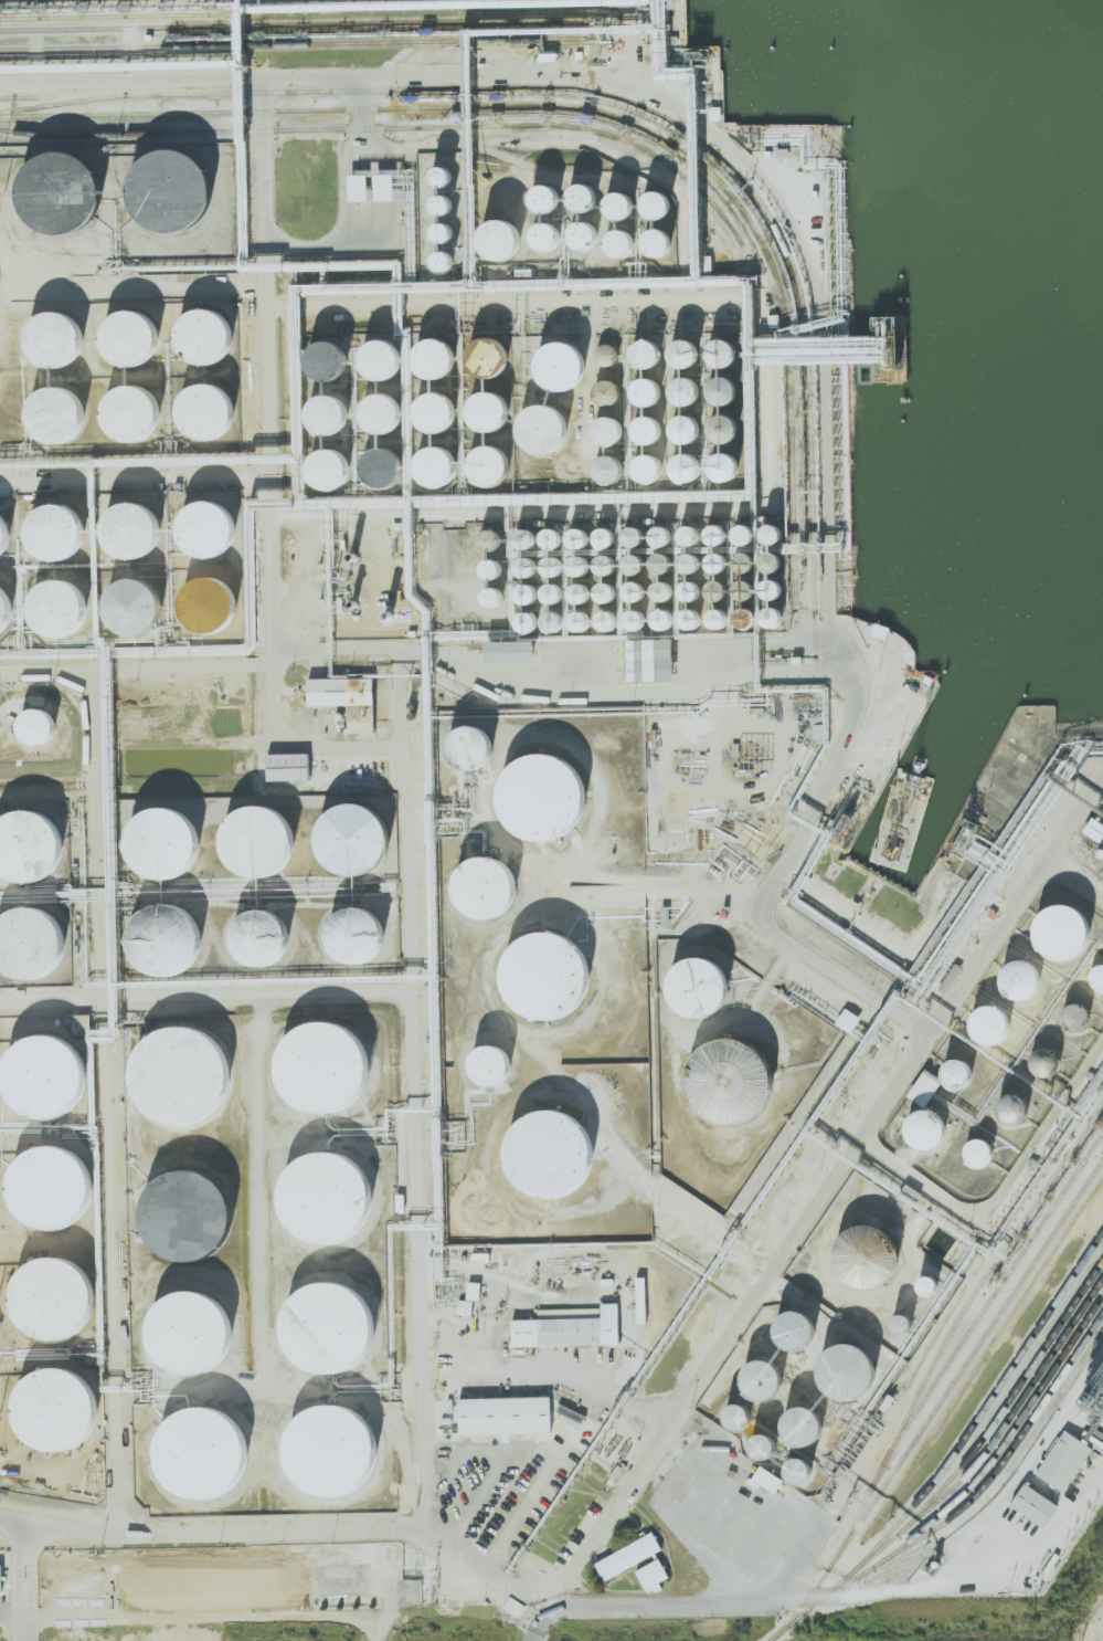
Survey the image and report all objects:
railway: (116, 15)
railway: (293, 24)
railway: (293, 43)
road: (470, 74)
railway: (629, 102)
railway: (595, 109)
railway: (393, 127)
building: (437, 175)
storage tank: (437, 175)
building: (358, 188)
building: (166, 189)
storage tank: (166, 189)
building: (52, 190)
storage tank: (52, 190)
building: (539, 197)
storage tank: (539, 197)
building: (579, 197)
storage tank: (579, 197)
building: (618, 198)
storage tank: (618, 198)
building: (656, 199)
storage tank: (656, 199)
building: (439, 202)
storage tank: (439, 202)
building: (441, 232)
storage tank: (441, 232)
building: (540, 235)
storage tank: (540, 235)
building: (580, 236)
storage tank: (580, 236)
building: (618, 236)
storage tank: (618, 236)
building: (656, 236)
storage tank: (656, 236)
road: (265, 239)
building: (498, 239)
storage tank: (498, 239)
building: (439, 260)
storage tank: (439, 260)
building: (203, 334)
storage tank: (203, 334)
building: (130, 338)
storage tank: (130, 338)
building: (55, 340)
storage tank: (55, 340)
building: (447, 344)
storage tank: (447, 344)
building: (722, 347)
storage tank: (722, 347)
building: (337, 348)
storage tank: (337, 348)
building: (395, 348)
storage tank: (395, 348)
building: (685, 348)
storage tank: (685, 348)
building: (647, 349)
storage tank: (647, 349)
building: (502, 351)
storage tank: (502, 351)
building: (607, 351)
storage tank: (607, 351)
building: (487, 357)
building: (324, 359)
building: (434, 359)
building: (380, 360)
building: (560, 360)
storage tank: (560, 360)
building: (721, 385)
storage tank: (721, 385)
building: (685, 386)
storage tank: (685, 386)
building: (647, 387)
storage tank: (647, 387)
building: (607, 389)
storage tank: (607, 389)
building: (499, 398)
storage tank: (499, 398)
building: (450, 401)
storage tank: (450, 401)
building: (338, 402)
storage tank: (338, 402)
building: (395, 403)
storage tank: (395, 403)
building: (487, 411)
building: (208, 412)
storage tank: (208, 412)
building: (132, 413)
storage tank: (132, 413)
building: (57, 417)
storage tank: (57, 417)
building: (686, 422)
storage tank: (686, 422)
building: (722, 422)
storage tank: (722, 422)
building: (542, 423)
storage tank: (542, 423)
building: (607, 424)
storage tank: (607, 424)
building: (648, 424)
storage tank: (648, 424)
building: (505, 454)
storage tank: (505, 454)
building: (454, 455)
storage tank: (454, 455)
building: (393, 457)
storage tank: (393, 457)
building: (342, 459)
storage tank: (342, 459)
building: (723, 461)
storage tank: (723, 461)
building: (687, 462)
storage tank: (687, 462)
building: (649, 463)
storage tank: (649, 463)
building: (608, 464)
storage tank: (608, 464)
road: (135, 480)
building: (220, 518)
storage tank: (220, 518)
building: (147, 520)
storage tank: (147, 520)
building: (67, 522)
storage tank: (67, 522)
building: (9, 526)
storage tank: (9, 526)
building: (744, 529)
storage tank: (744, 529)
building: (771, 529)
storage tank: (771, 529)
building: (690, 530)
storage tank: (690, 530)
building: (718, 530)
storage tank: (718, 530)
building: (634, 532)
storage tank: (634, 532)
building: (661, 532)
storage tank: (661, 532)
building: (580, 533)
storage tank: (580, 533)
building: (606, 533)
storage tank: (606, 533)
building: (527, 534)
storage tank: (527, 534)
building: (553, 534)
storage tank: (553, 534)
building: (744, 557)
storage tank: (744, 557)
building: (771, 557)
storage tank: (771, 557)
building: (690, 558)
storage tank: (690, 558)
building: (635, 559)
storage tank: (635, 559)
building: (661, 559)
storage tank: (661, 559)
building: (718, 559)
storage tank: (718, 559)
building: (580, 561)
storage tank: (580, 561)
building: (606, 561)
storage tank: (606, 561)
building: (527, 562)
storage tank: (527, 562)
building: (553, 562)
storage tank: (553, 562)
building: (489, 566)
storage tank: (489, 566)
building: (743, 585)
storage tank: (743, 585)
building: (771, 585)
storage tank: (771, 585)
building: (690, 586)
storage tank: (690, 586)
building: (717, 586)
storage tank: (717, 586)
building: (634, 587)
storage tank: (634, 587)
building: (660, 587)
storage tank: (660, 587)
building: (579, 588)
storage tank: (579, 588)
building: (526, 589)
storage tank: (526, 589)
building: (553, 589)
storage tank: (553, 589)
building: (605, 589)
storage tank: (605, 589)
building: (490, 595)
storage tank: (490, 595)
building: (70, 597)
storage tank: (70, 597)
building: (145, 598)
storage tank: (145, 598)
building: (227, 599)
storage tank: (227, 599)
building: (12, 602)
storage tank: (12, 602)
building: (745, 612)
storage tank: (745, 612)
building: (772, 612)
storage tank: (772, 612)
building: (691, 613)
storage tank: (691, 613)
building: (718, 613)
storage tank: (718, 613)
building: (635, 614)
storage tank: (635, 614)
building: (661, 614)
storage tank: (661, 614)
building: (528, 617)
storage tank: (528, 617)
building: (580, 617)
storage tank: (580, 617)
building: (606, 617)
storage tank: (606, 617)
building: (554, 618)
storage tank: (554, 618)
building: (880, 631)
building: (510, 653)
road: (437, 676)
building: (341, 692)
building: (53, 717)
storage tank: (53, 717)
building: (35, 727)
building: (468, 746)
storage tank: (468, 746)
building: (288, 767)
building: (554, 791)
storage tank: (554, 791)
building: (272, 828)
storage tank: (272, 828)
building: (367, 829)
storage tank: (367, 829)
building: (1094, 829)
building: (177, 833)
storage tank: (177, 833)
building: (39, 838)
storage tank: (39, 838)
road: (1074, 881)
building: (482, 885)
storage tank: (482, 885)
road: (764, 901)
building: (370, 927)
storage tank: (370, 927)
building: (277, 929)
storage tank: (277, 929)
building: (1063, 929)
storage tank: (1063, 929)
building: (40, 933)
storage tank: (40, 933)
building: (178, 935)
storage tank: (178, 935)
building: (560, 969)
storage tank: (560, 969)
building: (1096, 977)
storage tank: (1096, 977)
building: (1021, 979)
storage tank: (1021, 979)
building: (693, 980)
storage tank: (693, 980)
road: (91, 999)
road: (44, 1000)
building: (1074, 1017)
storage tank: (1074, 1017)
building: (848, 1021)
building: (993, 1024)
storage tank: (993, 1024)
building: (1044, 1063)
storage tank: (1044, 1063)
building: (484, 1064)
storage tank: (484, 1064)
building: (317, 1066)
storage tank: (317, 1066)
building: (180, 1077)
storage tank: (180, 1077)
building: (958, 1077)
storage tank: (958, 1077)
building: (46, 1080)
storage tank: (46, 1080)
building: (732, 1081)
storage tank: (732, 1081)
building: (1015, 1109)
storage tank: (1015, 1109)
road: (421, 1128)
building: (926, 1134)
storage tank: (926, 1134)
building: (563, 1146)
storage tank: (563, 1146)
building: (977, 1154)
storage tank: (977, 1154)
road: (1004, 1187)
building: (51, 1190)
storage tank: (51, 1190)
building: (321, 1196)
storage tank: (321, 1196)
building: (188, 1216)
storage tank: (188, 1216)
building: (870, 1258)
storage tank: (870, 1258)
building: (924, 1283)
storage tank: (924, 1283)
building: (474, 1291)
railway: (991, 1297)
building: (52, 1300)
storage tank: (52, 1300)
building: (641, 1301)
building: (465, 1307)
building: (897, 1319)
storage tank: (897, 1319)
building: (321, 1325)
storage tank: (321, 1325)
building: (183, 1327)
storage tank: (183, 1327)
building: (791, 1328)
storage tank: (791, 1328)
railway: (965, 1365)
building: (839, 1369)
storage tank: (839, 1369)
railway: (930, 1369)
building: (755, 1376)
storage tank: (755, 1376)
building: (738, 1411)
storage tank: (738, 1411)
building: (57, 1412)
storage tank: (57, 1412)
building: (505, 1416)
railway: (1010, 1416)
building: (795, 1420)
storage tank: (795, 1420)
road: (671, 1421)
road: (424, 1430)
railway: (988, 1431)
building: (759, 1443)
storage tank: (759, 1443)
building: (324, 1445)
storage tank: (324, 1445)
building: (200, 1448)
storage tank: (200, 1448)
railway: (955, 1453)
railway: (1006, 1458)
building: (1064, 1461)
building: (792, 1465)
storage tank: (792, 1465)
railway: (978, 1480)
building: (1033, 1505)
building: (628, 1556)
building: (340, 1572)
building: (653, 1575)
road: (25, 1584)
road: (553, 1591)
road: (859, 1595)
road: (556, 1603)
road: (549, 1611)
road: (209, 1618)
road: (537, 1628)

